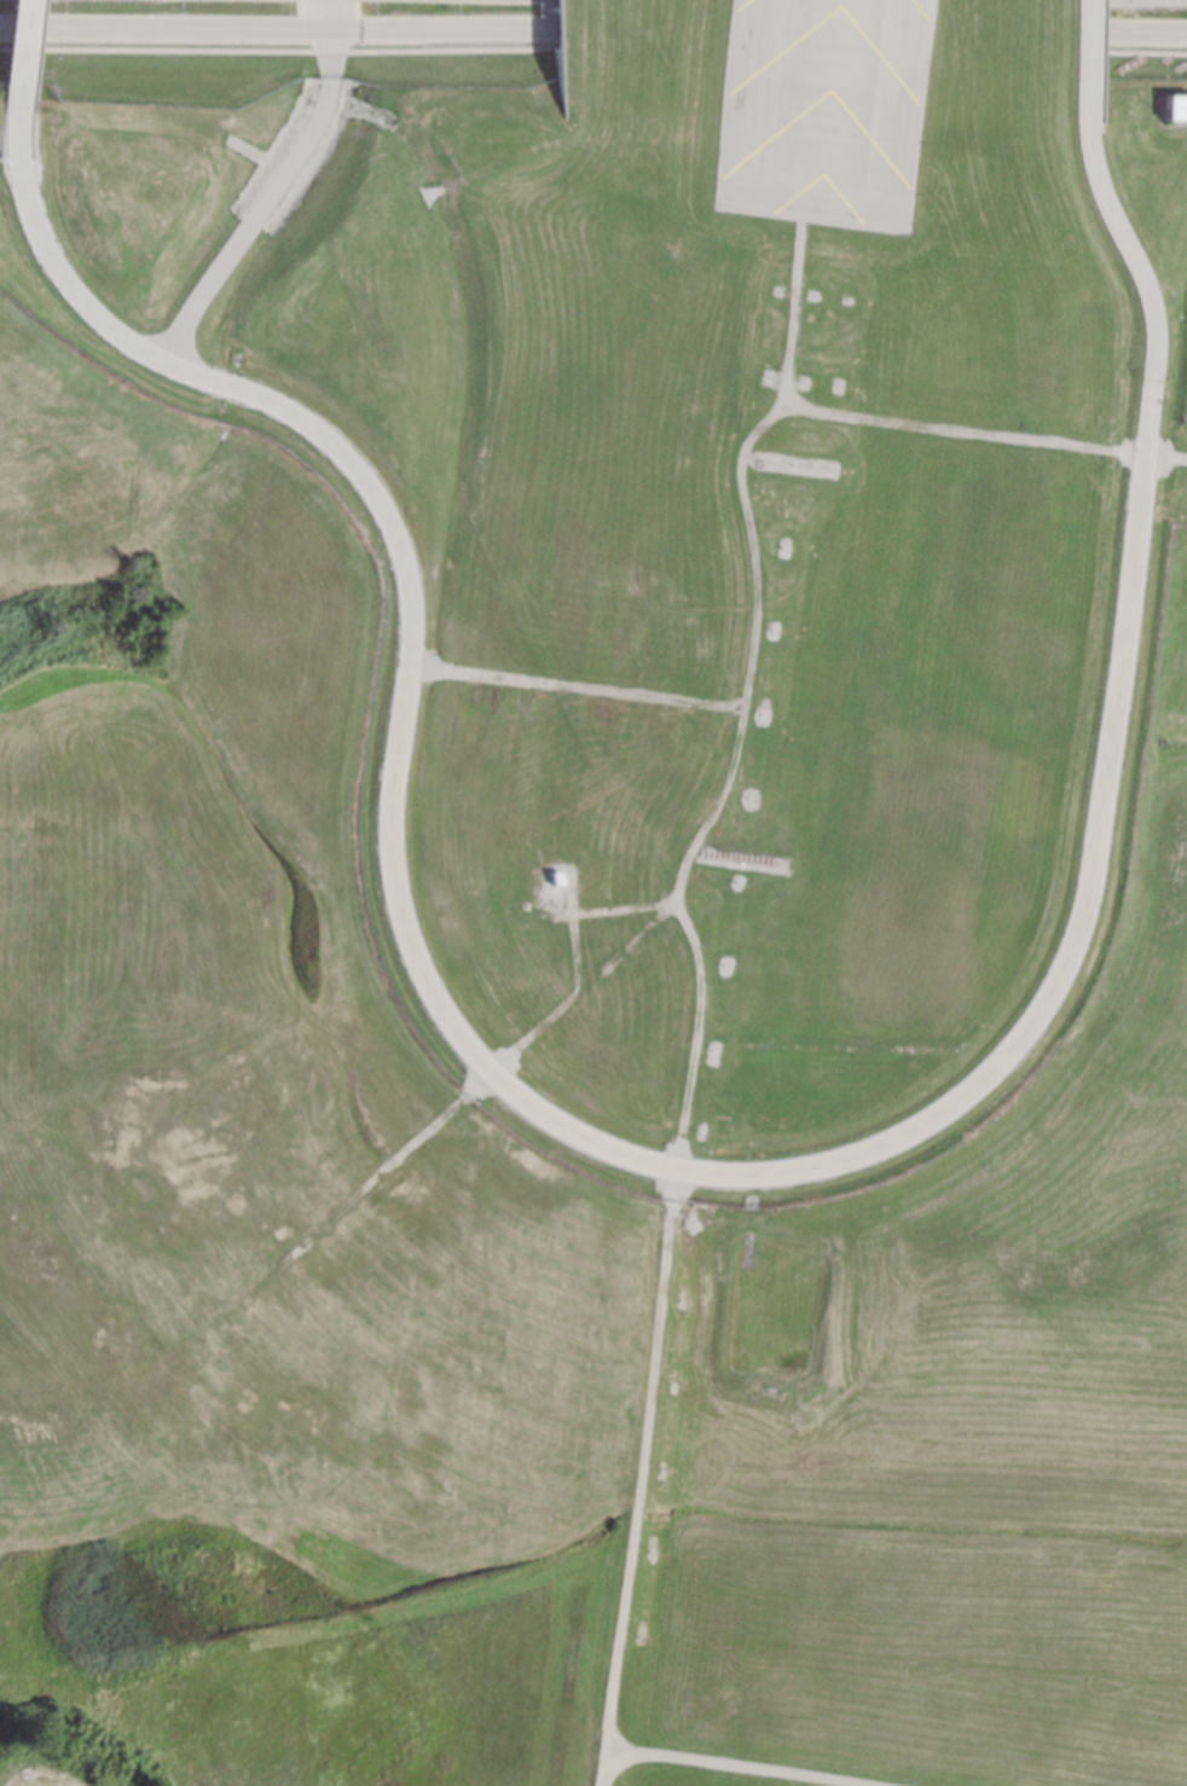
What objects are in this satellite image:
road: (283, 29)
road: (1147, 35)
road: (29, 54)
building: (1179, 106)
road: (278, 189)
airport: (699, 533)
building: (552, 876)
building: (554, 899)
road: (711, 1173)
road: (636, 1478)
road: (724, 1767)
road: (36, 1771)

